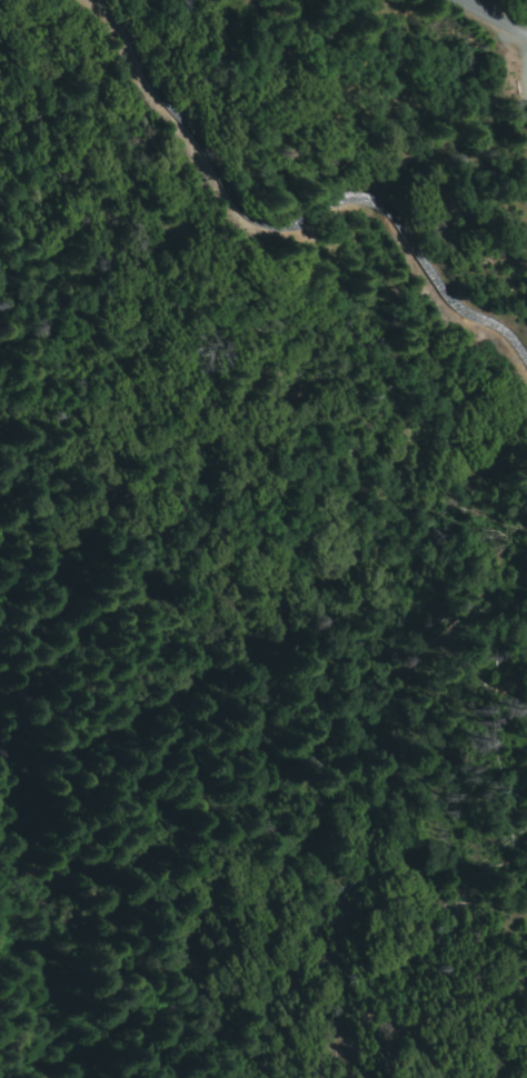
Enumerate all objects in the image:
road: (460, 23)

